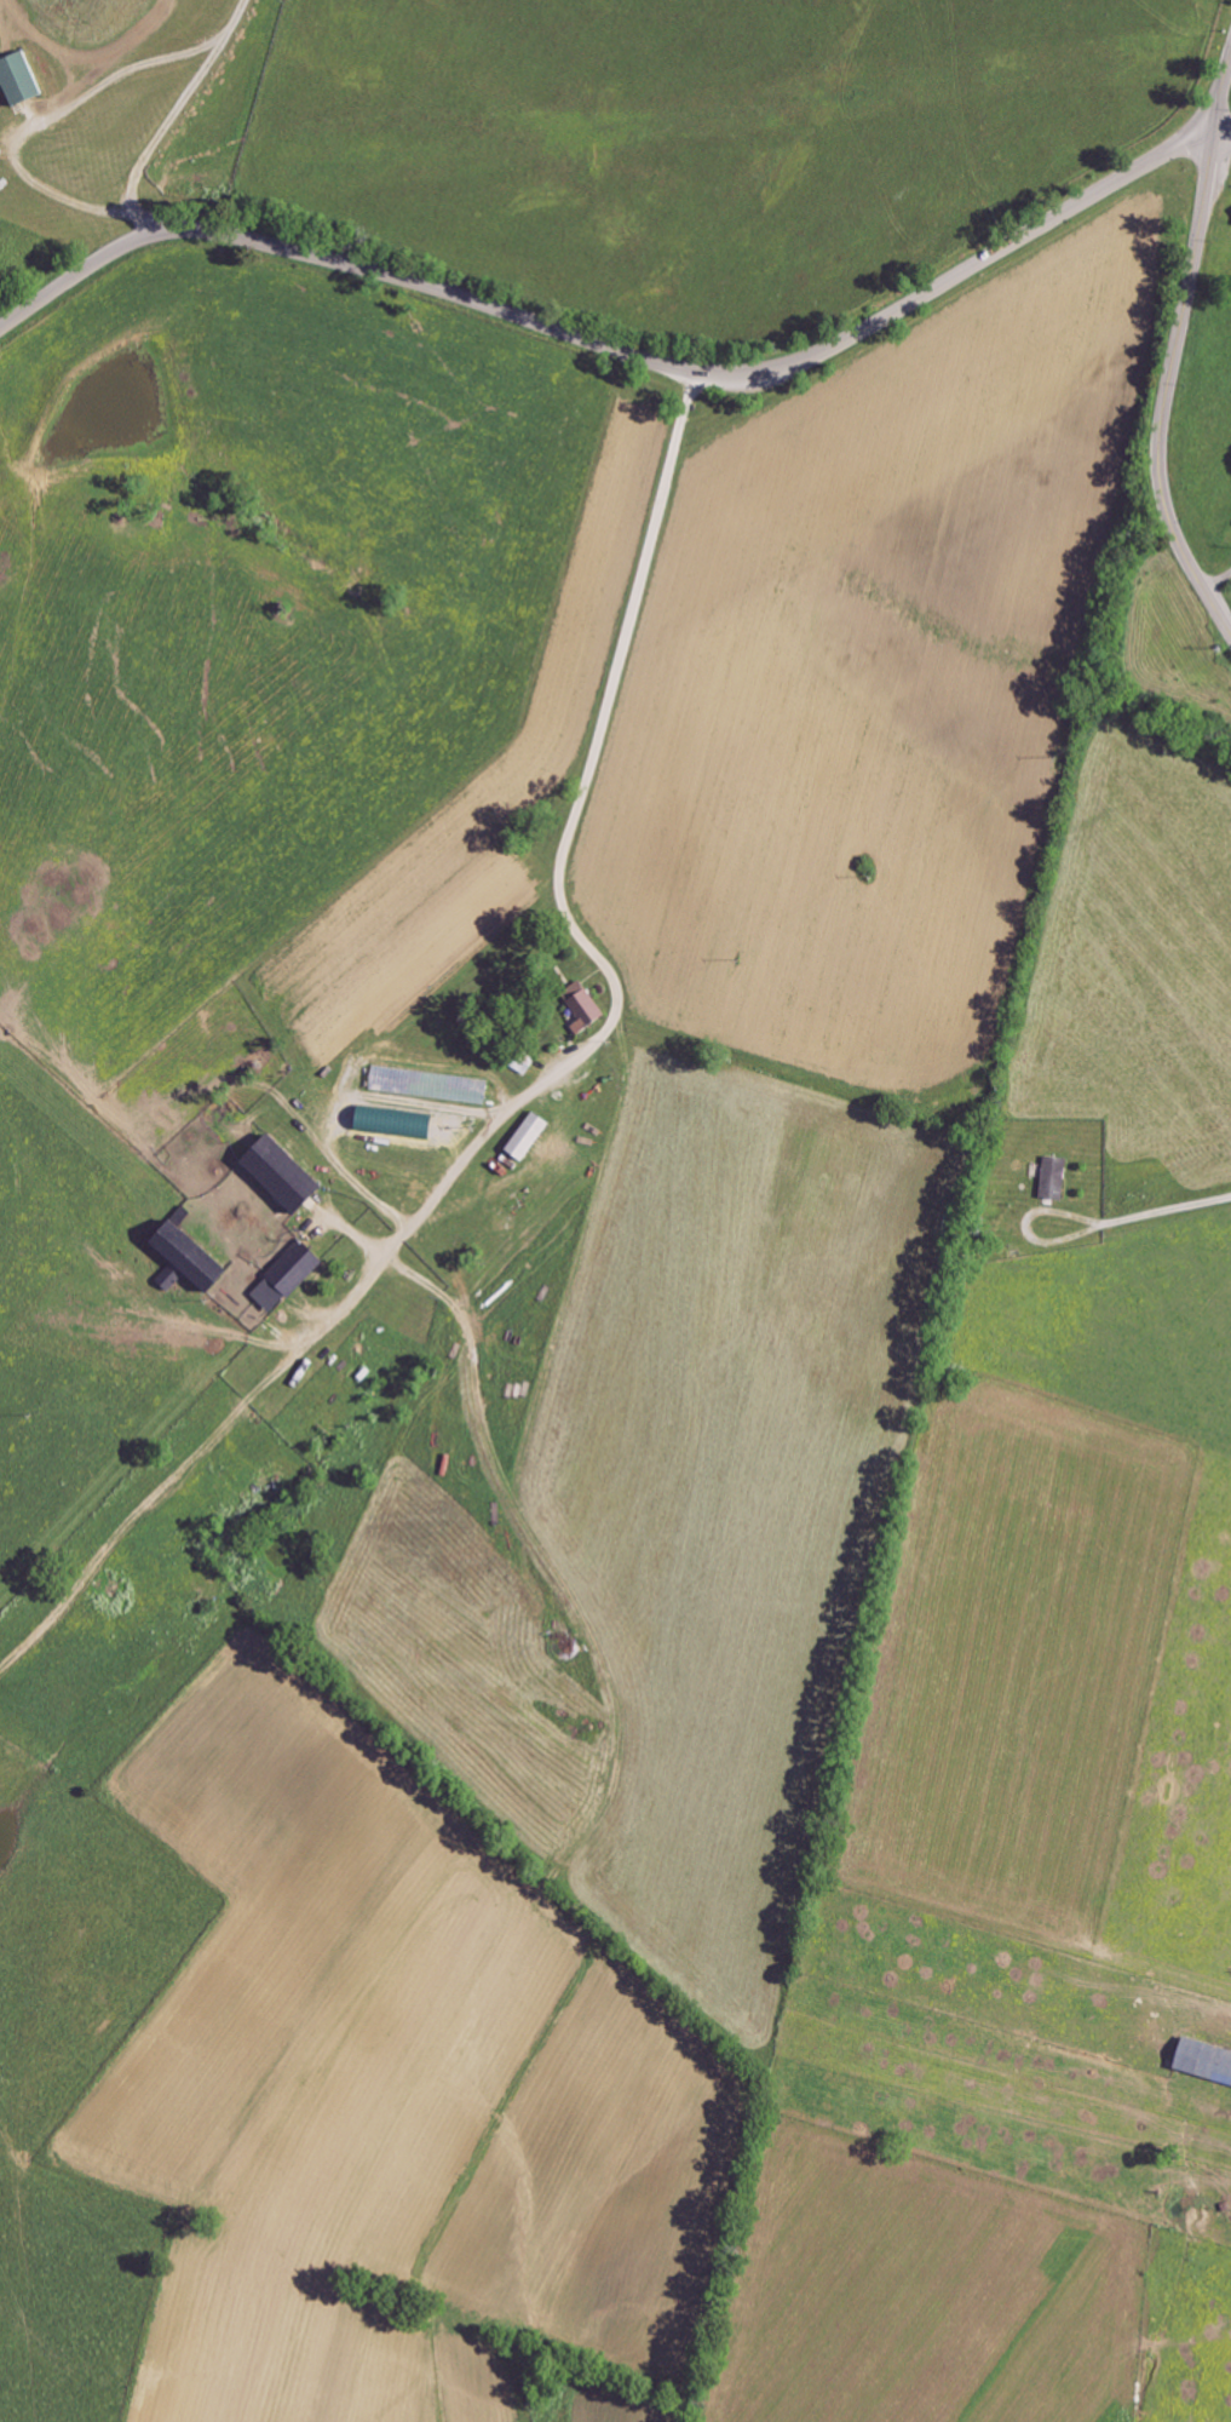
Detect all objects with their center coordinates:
building: (22, 81)
road: (1221, 96)
road: (50, 117)
road: (171, 117)
road: (1223, 134)
road: (616, 352)
road: (1167, 390)
road: (566, 928)
building: (591, 1012)
building: (432, 1086)
building: (398, 1126)
building: (534, 1136)
building: (289, 1177)
building: (1058, 1178)
road: (1169, 1209)
road: (1024, 1228)
building: (199, 1256)
building: (176, 1278)
building: (292, 1278)
building: (1208, 2061)

